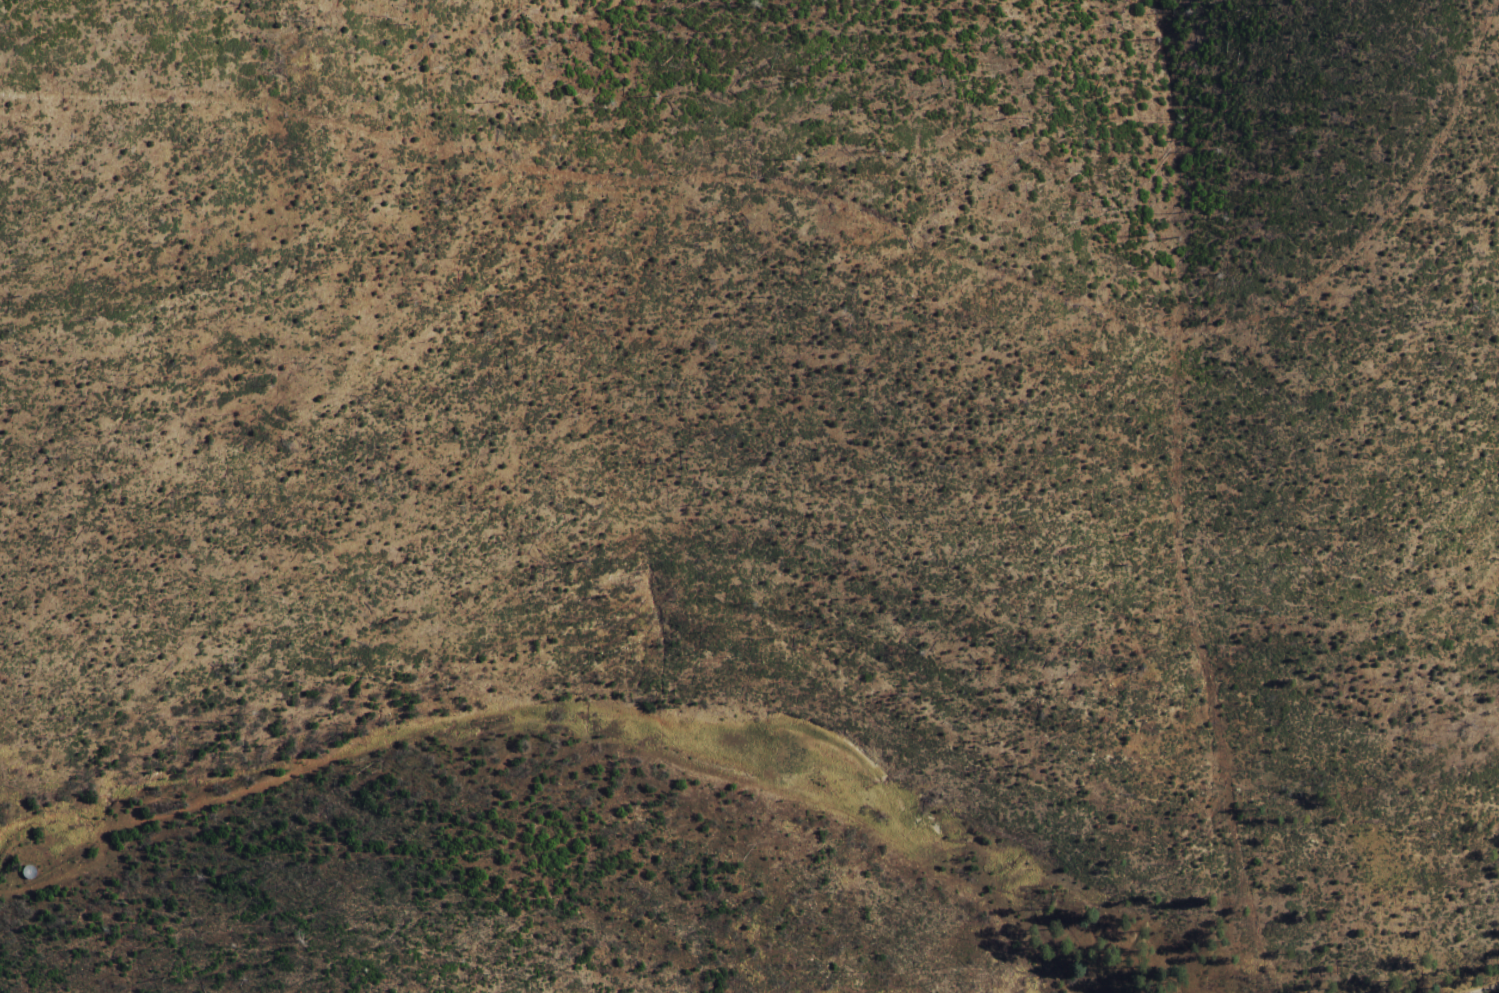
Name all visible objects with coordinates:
road: (1463, 977)

